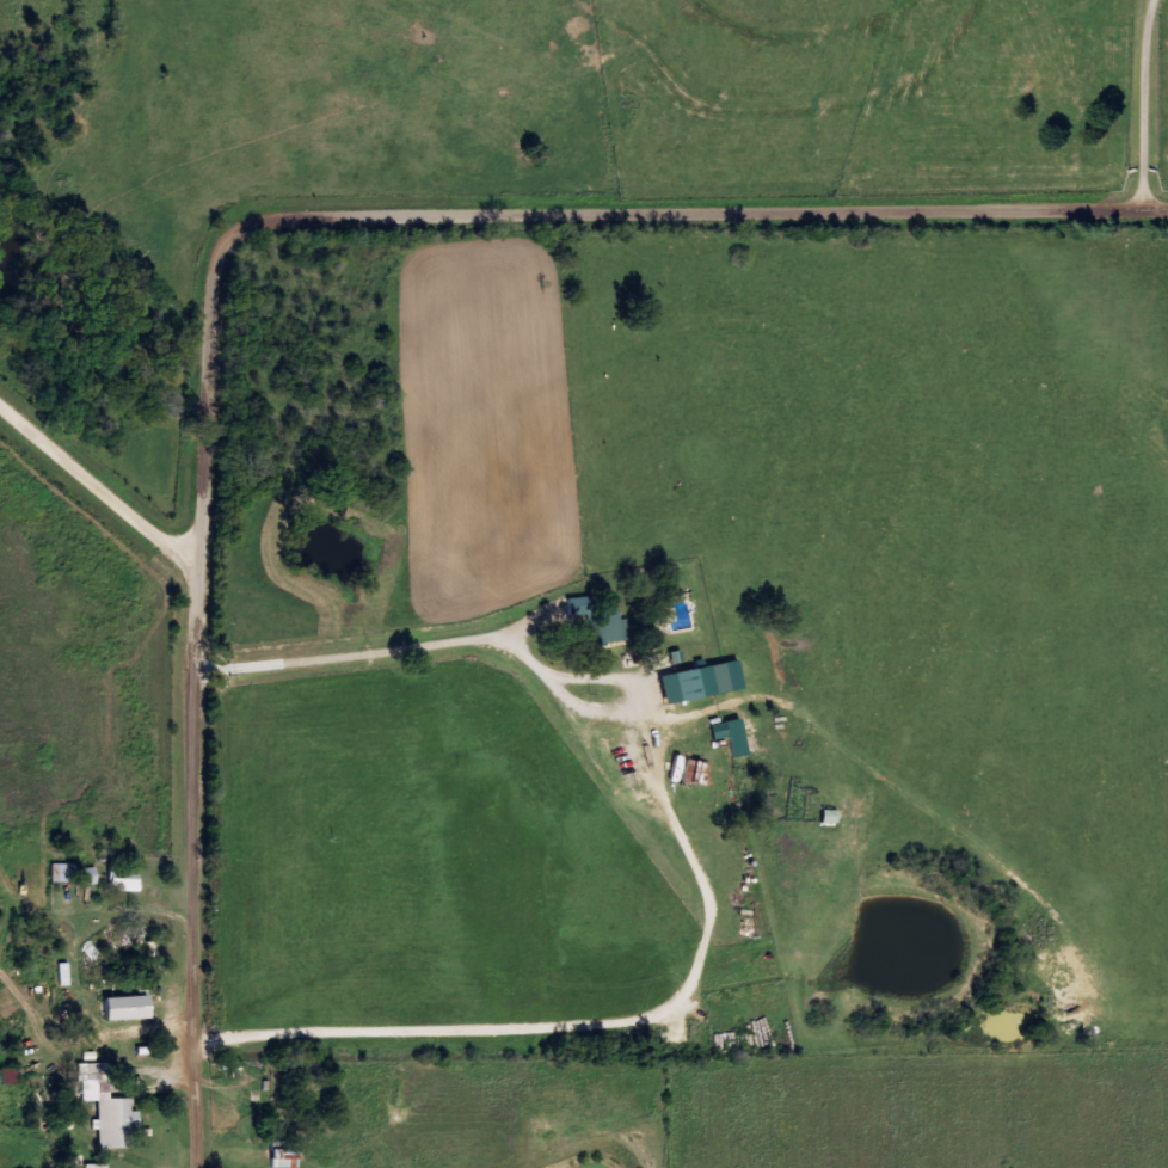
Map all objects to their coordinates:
road: (241, 239)
road: (104, 481)
building: (601, 622)
road: (485, 644)
building: (699, 683)
building: (733, 736)
building: (66, 873)
building: (90, 875)
building: (127, 879)
building: (131, 1008)
building: (110, 1107)
building: (288, 1158)
building: (98, 1166)

